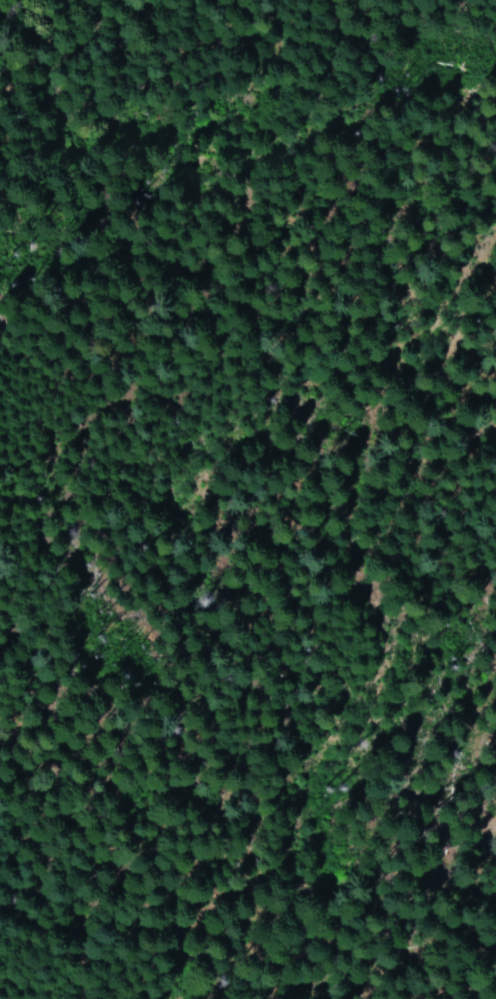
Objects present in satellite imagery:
road: (463, 412)
road: (401, 791)

